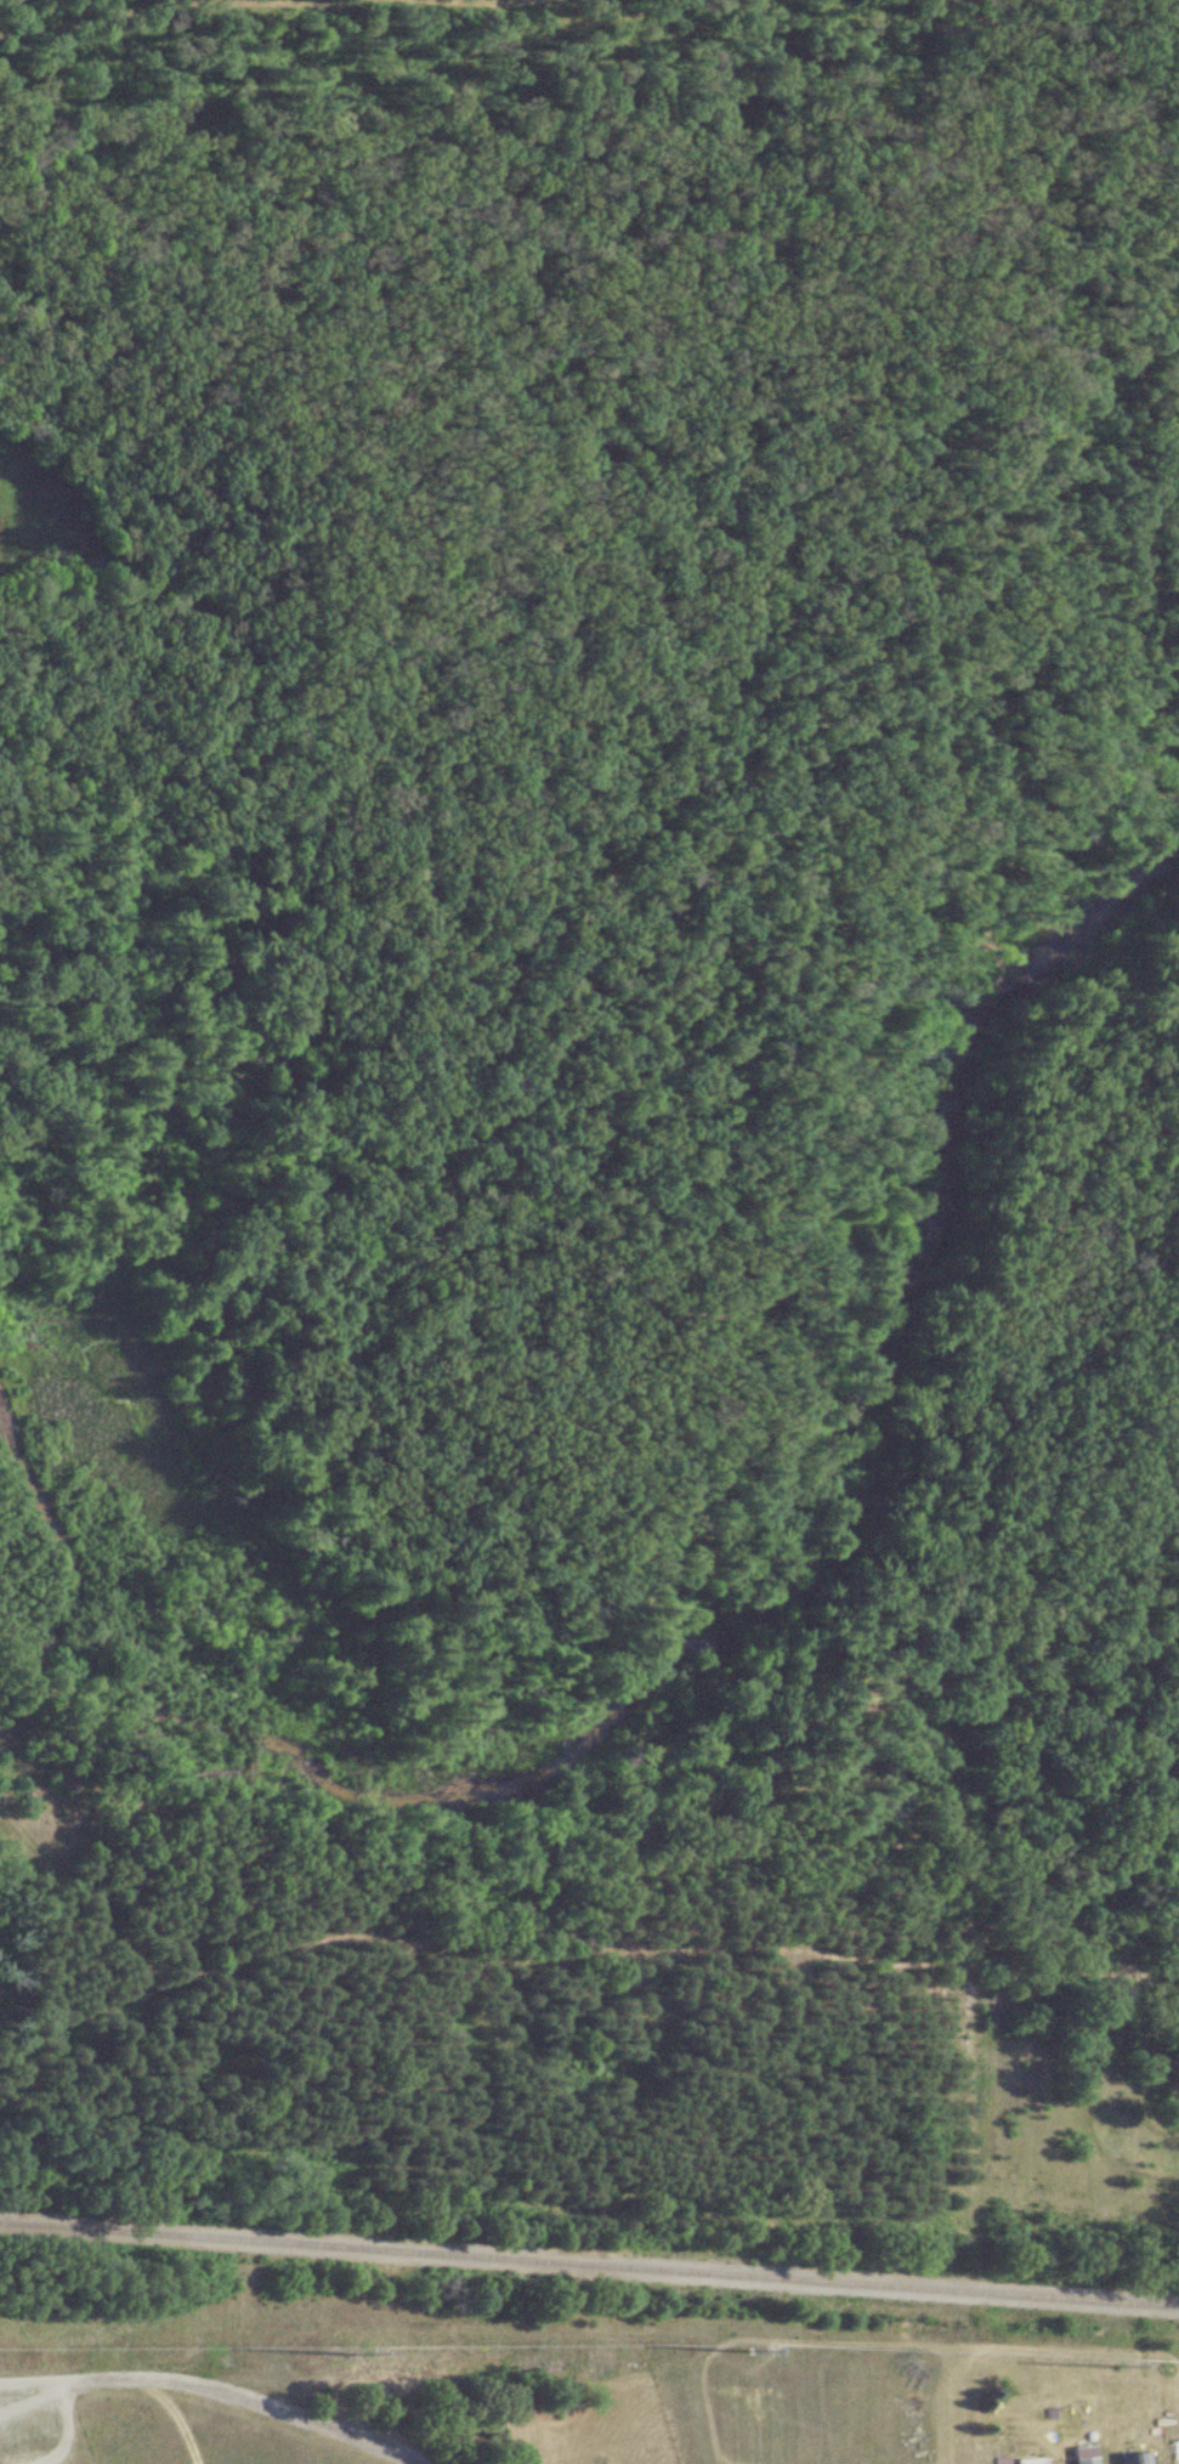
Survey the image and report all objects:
railway: (589, 2264)
power tower: (744, 2351)
power tower: (345, 2355)
power tower: (1112, 2364)
road: (216, 2391)
parking lot: (18, 2411)
building: (1127, 2459)
building: (1078, 2462)

